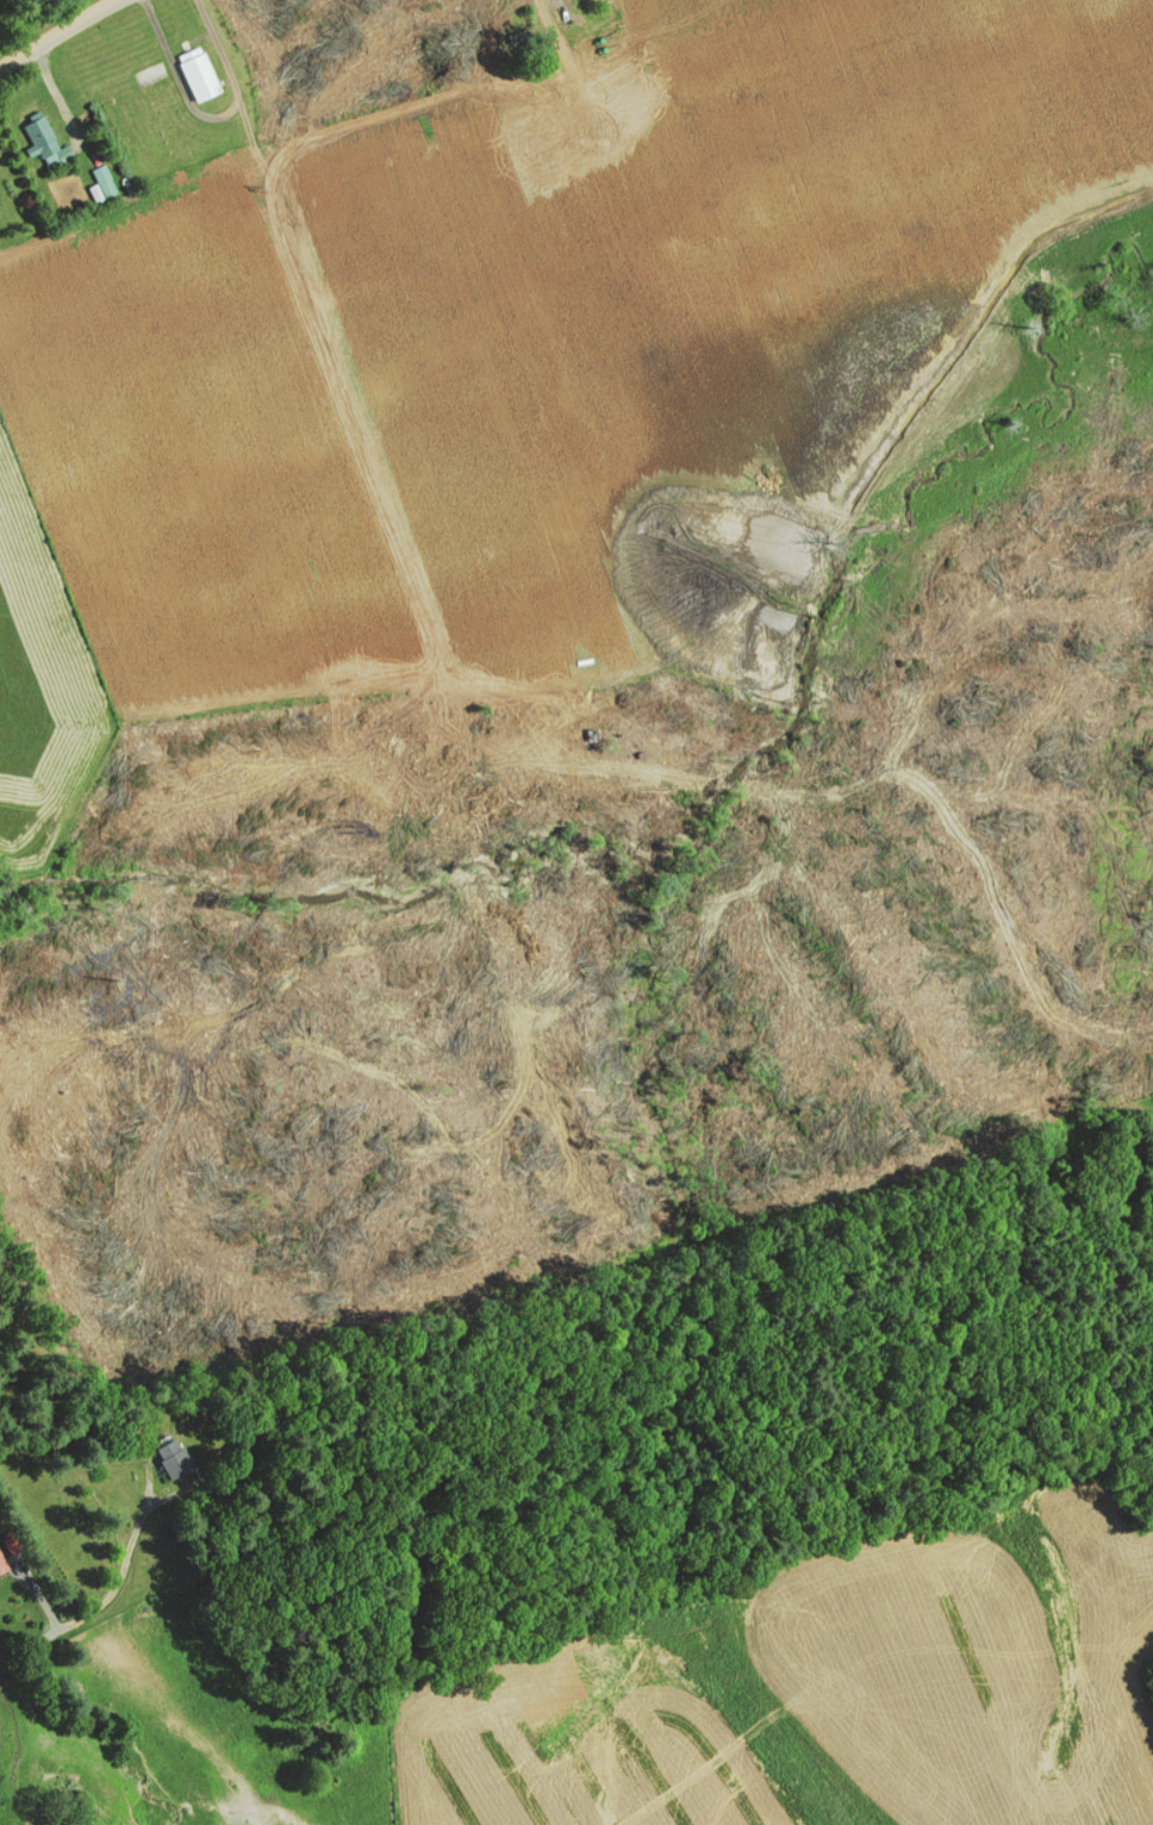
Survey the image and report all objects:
road: (61, 35)
road: (596, 100)
park: (154, 133)
building: (162, 1452)
road: (104, 1603)

